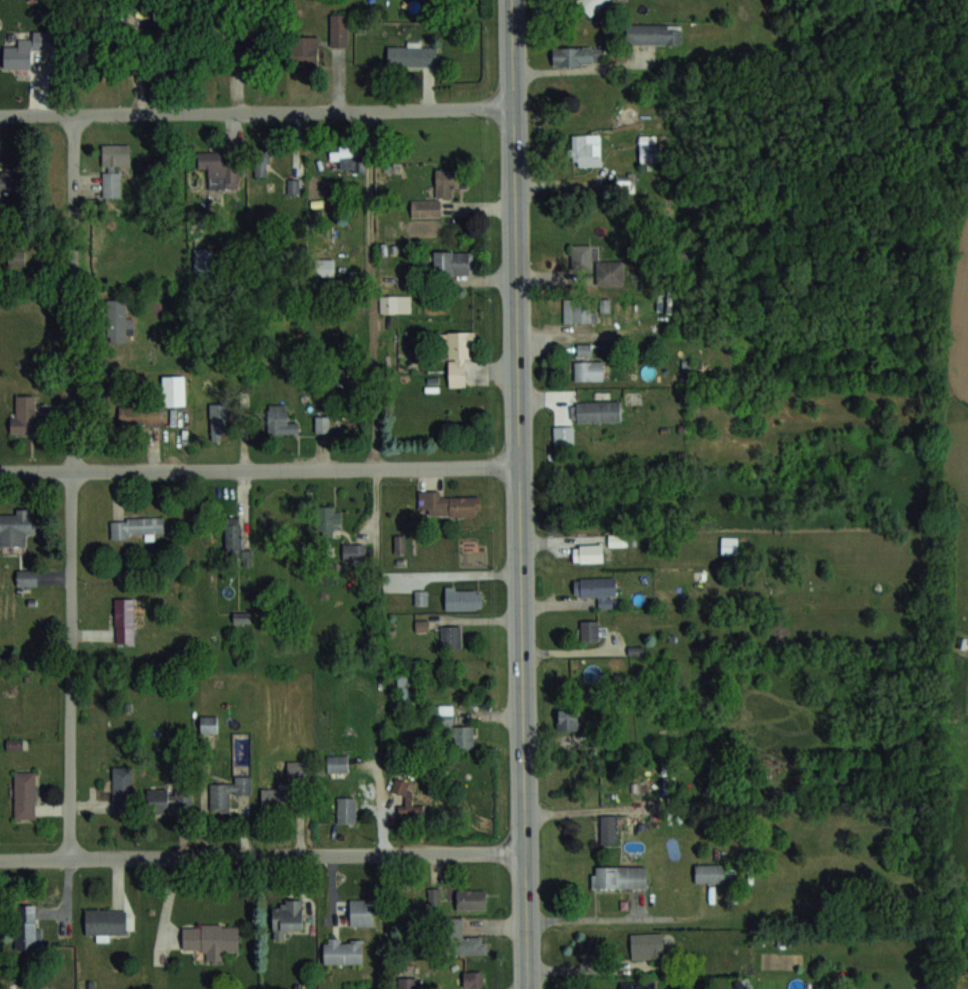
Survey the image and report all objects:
building: (591, 5)
building: (338, 29)
building: (653, 33)
building: (305, 51)
building: (102, 52)
building: (18, 55)
building: (412, 55)
building: (579, 55)
road: (579, 68)
road: (256, 111)
building: (342, 151)
building: (583, 151)
building: (650, 151)
building: (261, 162)
building: (114, 167)
building: (220, 168)
building: (629, 180)
building: (11, 181)
building: (293, 186)
building: (18, 258)
building: (453, 262)
building: (594, 265)
building: (326, 266)
road: (372, 289)
building: (395, 303)
crop: (955, 305)
building: (579, 310)
building: (118, 321)
building: (458, 359)
building: (588, 370)
building: (173, 389)
building: (596, 411)
building: (23, 413)
building: (139, 416)
building: (219, 420)
building: (279, 420)
building: (563, 435)
road: (259, 468)
road: (71, 485)
road: (520, 494)
building: (448, 504)
building: (327, 520)
building: (136, 526)
building: (15, 529)
building: (236, 539)
building: (617, 540)
building: (353, 551)
building: (588, 552)
building: (26, 577)
building: (597, 589)
building: (421, 597)
building: (463, 597)
building: (124, 619)
building: (422, 624)
building: (589, 630)
building: (451, 636)
road: (379, 661)
building: (406, 687)
building: (568, 719)
building: (208, 723)
building: (452, 727)
building: (337, 763)
building: (122, 780)
building: (228, 792)
building: (24, 795)
building: (169, 799)
building: (281, 799)
building: (406, 799)
building: (346, 809)
building: (609, 829)
road: (262, 856)
building: (709, 872)
building: (619, 876)
building: (471, 899)
building: (361, 912)
building: (287, 917)
road: (600, 918)
building: (106, 922)
building: (24, 928)
building: (461, 938)
building: (211, 939)
building: (646, 945)
building: (343, 950)
road: (586, 966)
building: (472, 978)
building: (407, 983)
building: (638, 984)

